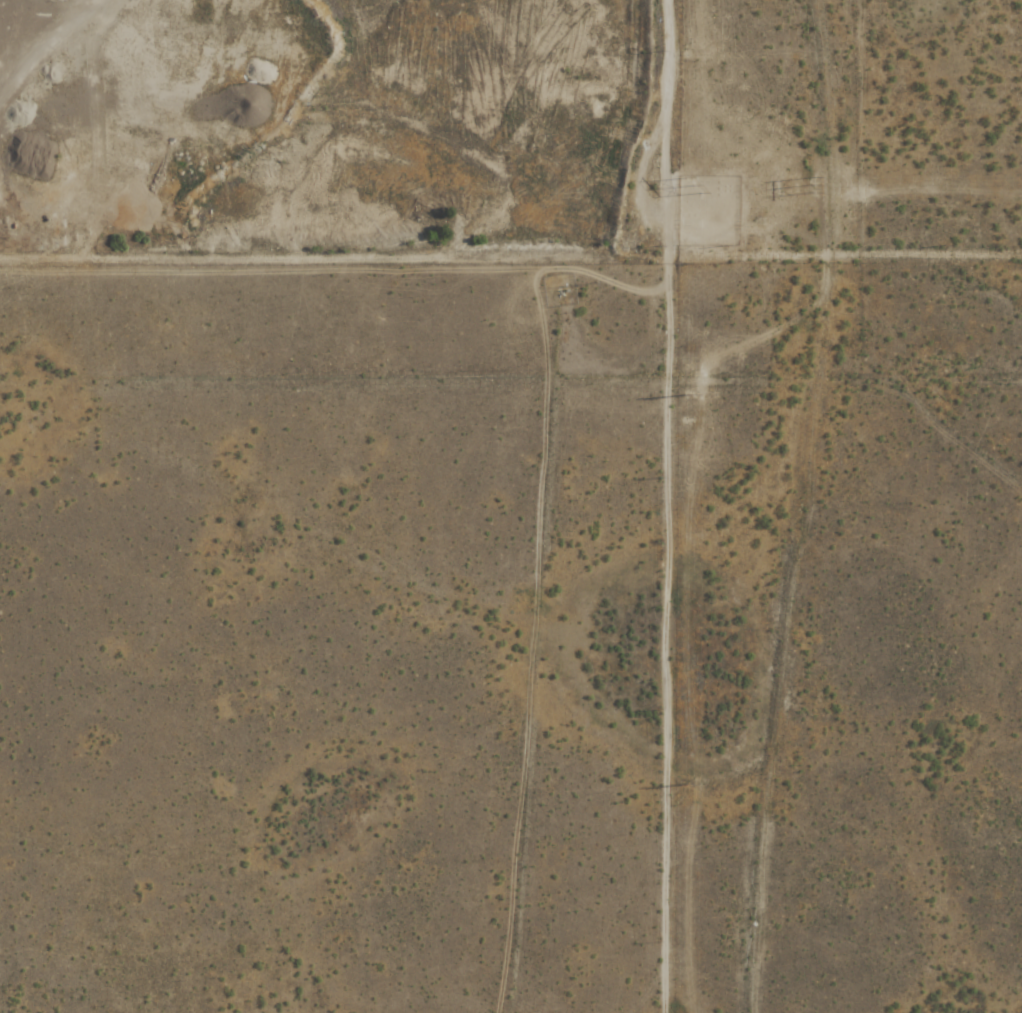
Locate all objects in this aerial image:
power tower: (690, 55)
power tower: (786, 187)
power tower: (817, 187)
power tower: (690, 204)
power substation: (708, 210)
power tower: (685, 420)
power tower: (682, 784)

